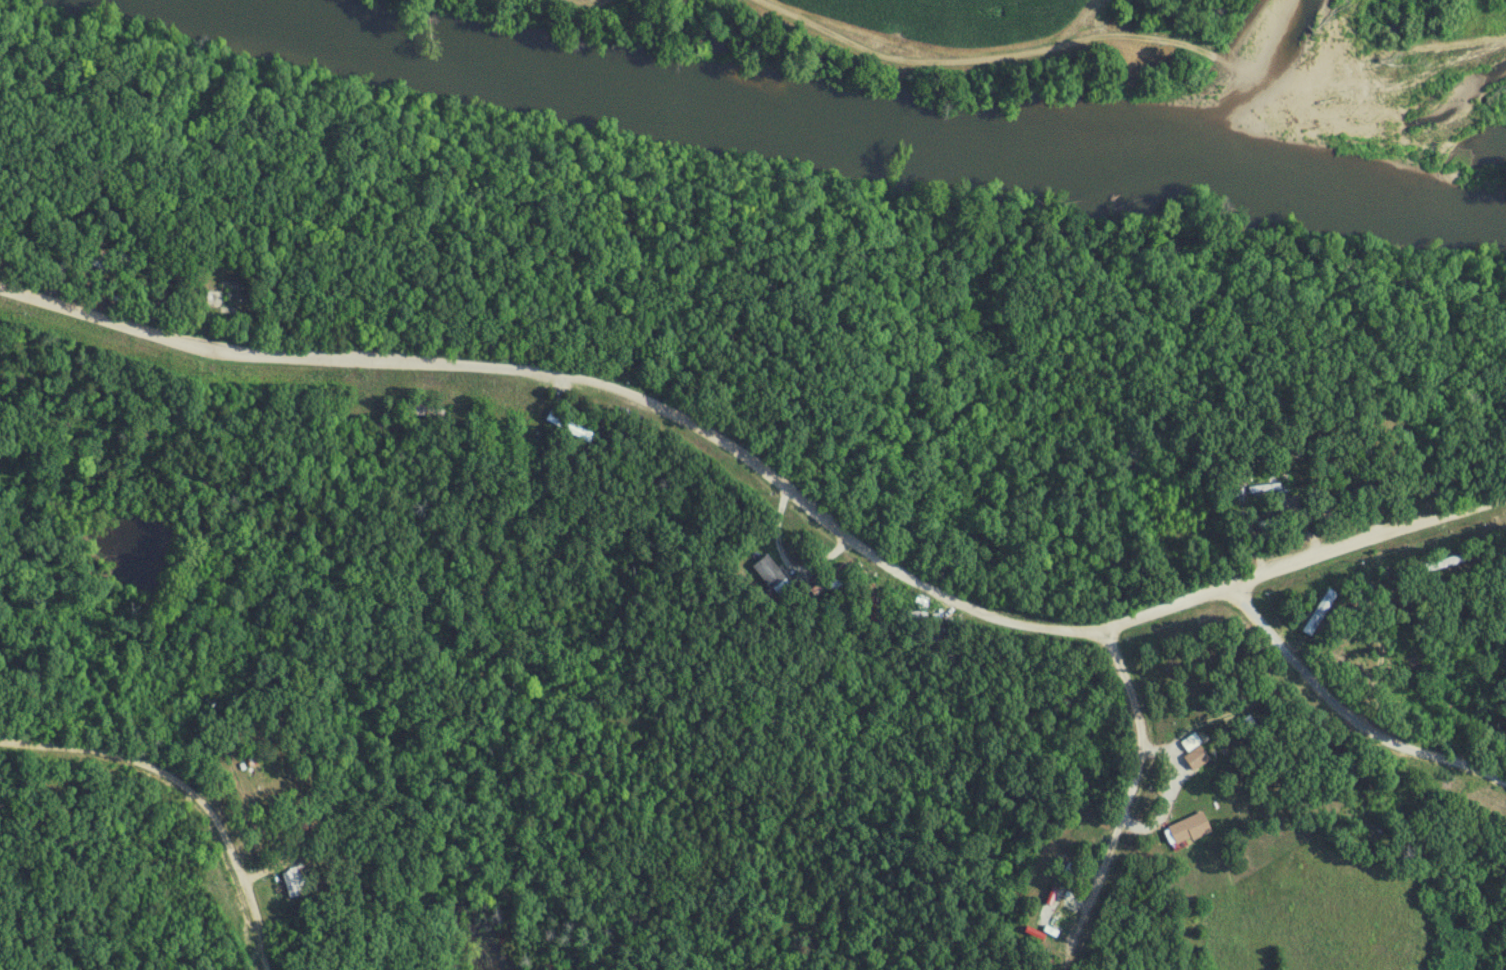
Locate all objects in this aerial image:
road: (977, 63)
river: (870, 127)
building: (224, 298)
building: (426, 412)
road: (767, 475)
building: (1447, 563)
building: (770, 573)
road: (1348, 714)
building: (1196, 753)
road: (186, 790)
road: (1125, 803)
building: (1190, 829)
building: (1071, 871)
building: (1059, 898)

